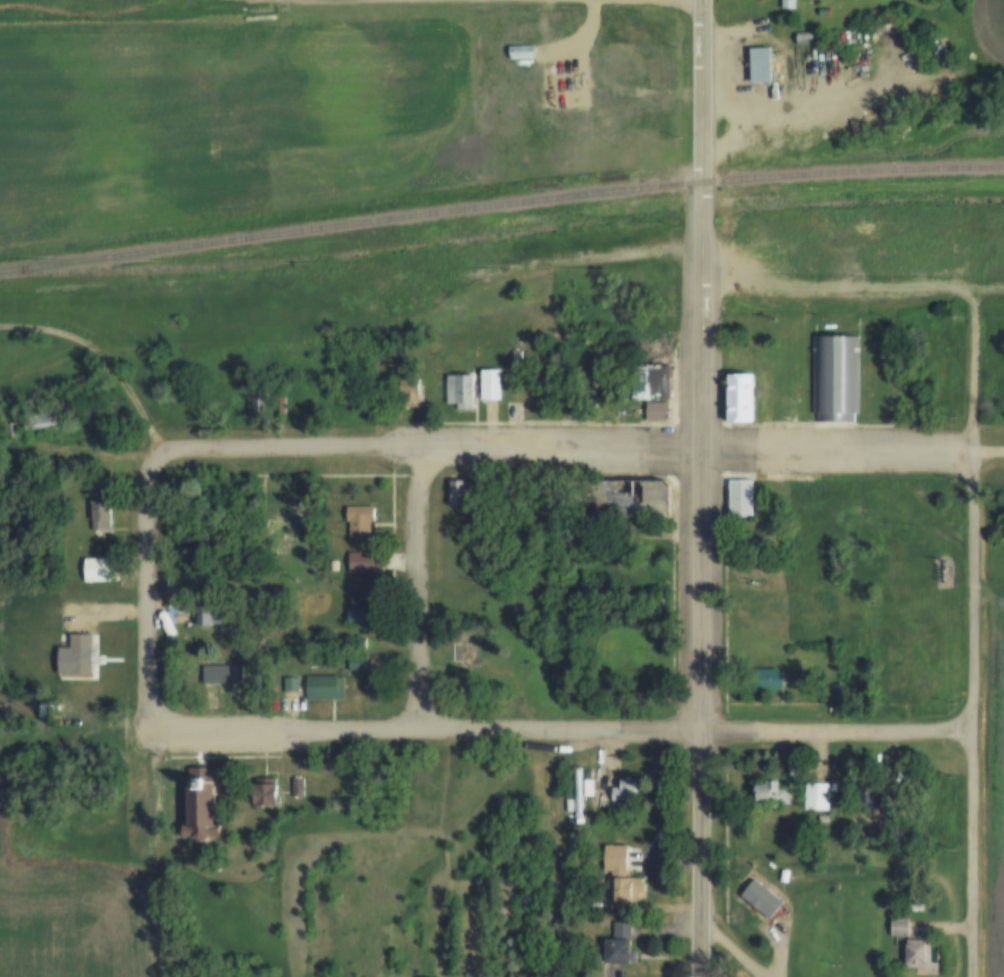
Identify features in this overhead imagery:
building: (790, 4)
building: (844, 36)
building: (526, 58)
building: (621, 63)
building: (764, 65)
road: (628, 85)
road: (701, 91)
railway: (885, 201)
railway: (500, 205)
building: (774, 226)
railway: (326, 256)
road: (594, 260)
building: (435, 262)
road: (835, 291)
road: (983, 291)
road: (697, 314)
building: (519, 337)
building: (517, 355)
road: (105, 357)
building: (835, 376)
building: (234, 377)
building: (653, 381)
building: (492, 384)
building: (459, 391)
building: (411, 392)
building: (745, 398)
building: (264, 401)
building: (281, 404)
building: (377, 407)
building: (658, 410)
building: (42, 423)
road: (704, 448)
road: (299, 449)
road: (993, 450)
building: (634, 498)
building: (742, 498)
building: (103, 515)
building: (198, 515)
building: (296, 522)
building: (361, 524)
building: (364, 563)
building: (334, 566)
building: (103, 570)
road: (145, 573)
power substation: (944, 573)
building: (312, 574)
road: (428, 589)
building: (190, 603)
building: (211, 614)
building: (364, 618)
road: (981, 636)
building: (511, 647)
building: (465, 653)
building: (207, 670)
building: (770, 680)
park: (335, 688)
building: (824, 696)
road: (706, 712)
road: (564, 730)
building: (296, 789)
building: (625, 792)
building: (777, 793)
building: (818, 796)
building: (869, 796)
building: (269, 797)
building: (202, 806)
building: (823, 819)
building: (620, 874)
building: (902, 928)
building: (624, 945)
road: (737, 948)
building: (920, 956)

